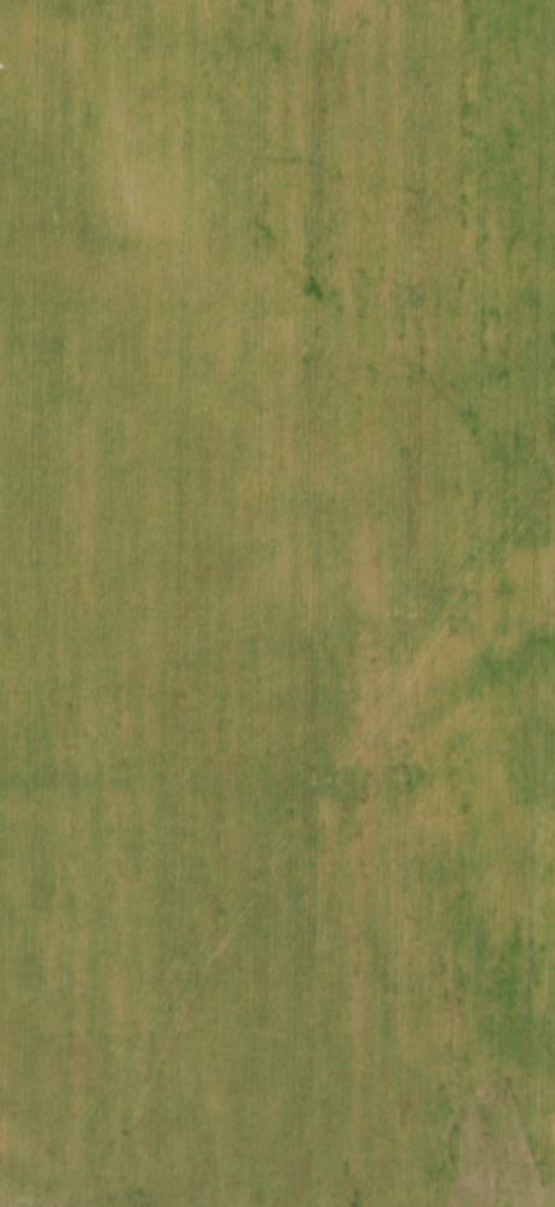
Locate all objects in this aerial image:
crop: (277, 603)

